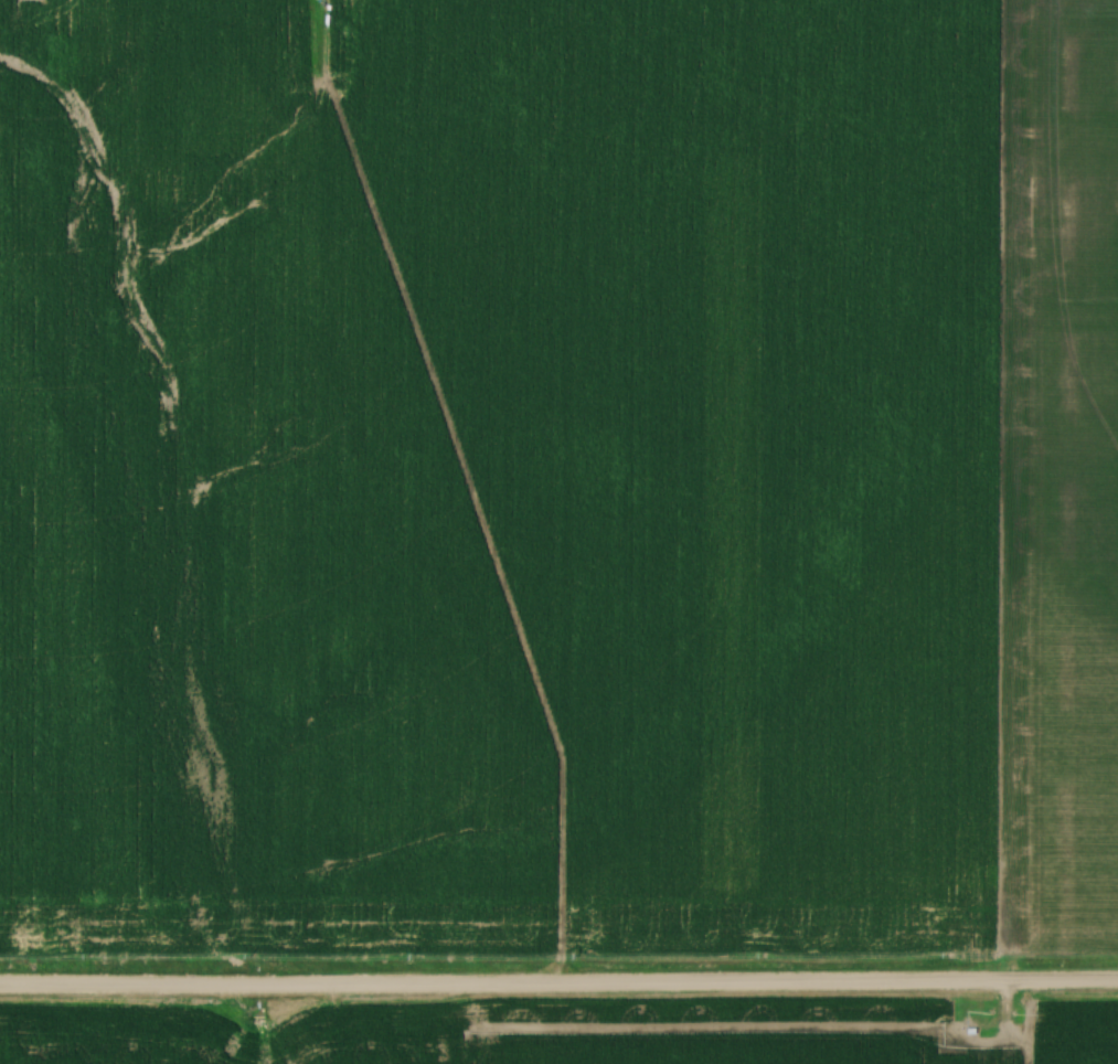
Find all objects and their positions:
road: (558, 986)

